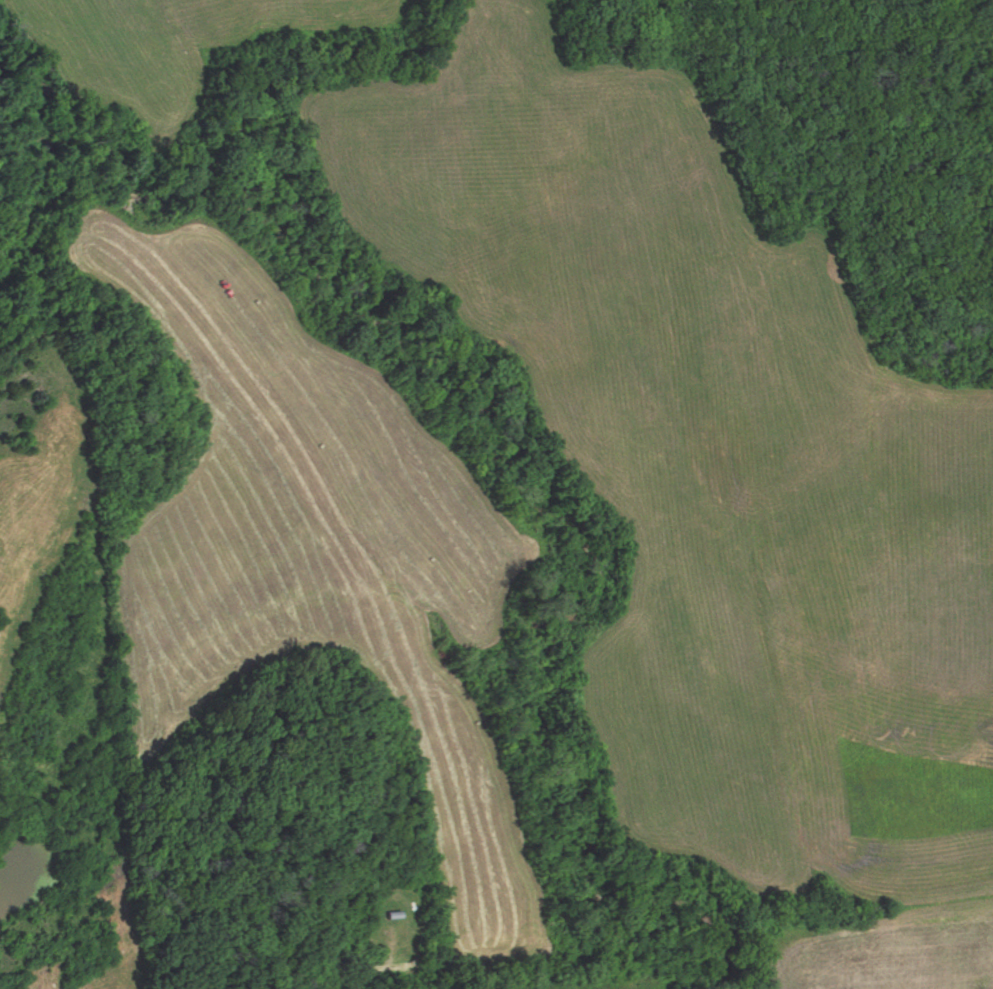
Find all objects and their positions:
road: (902, 924)
road: (368, 971)

